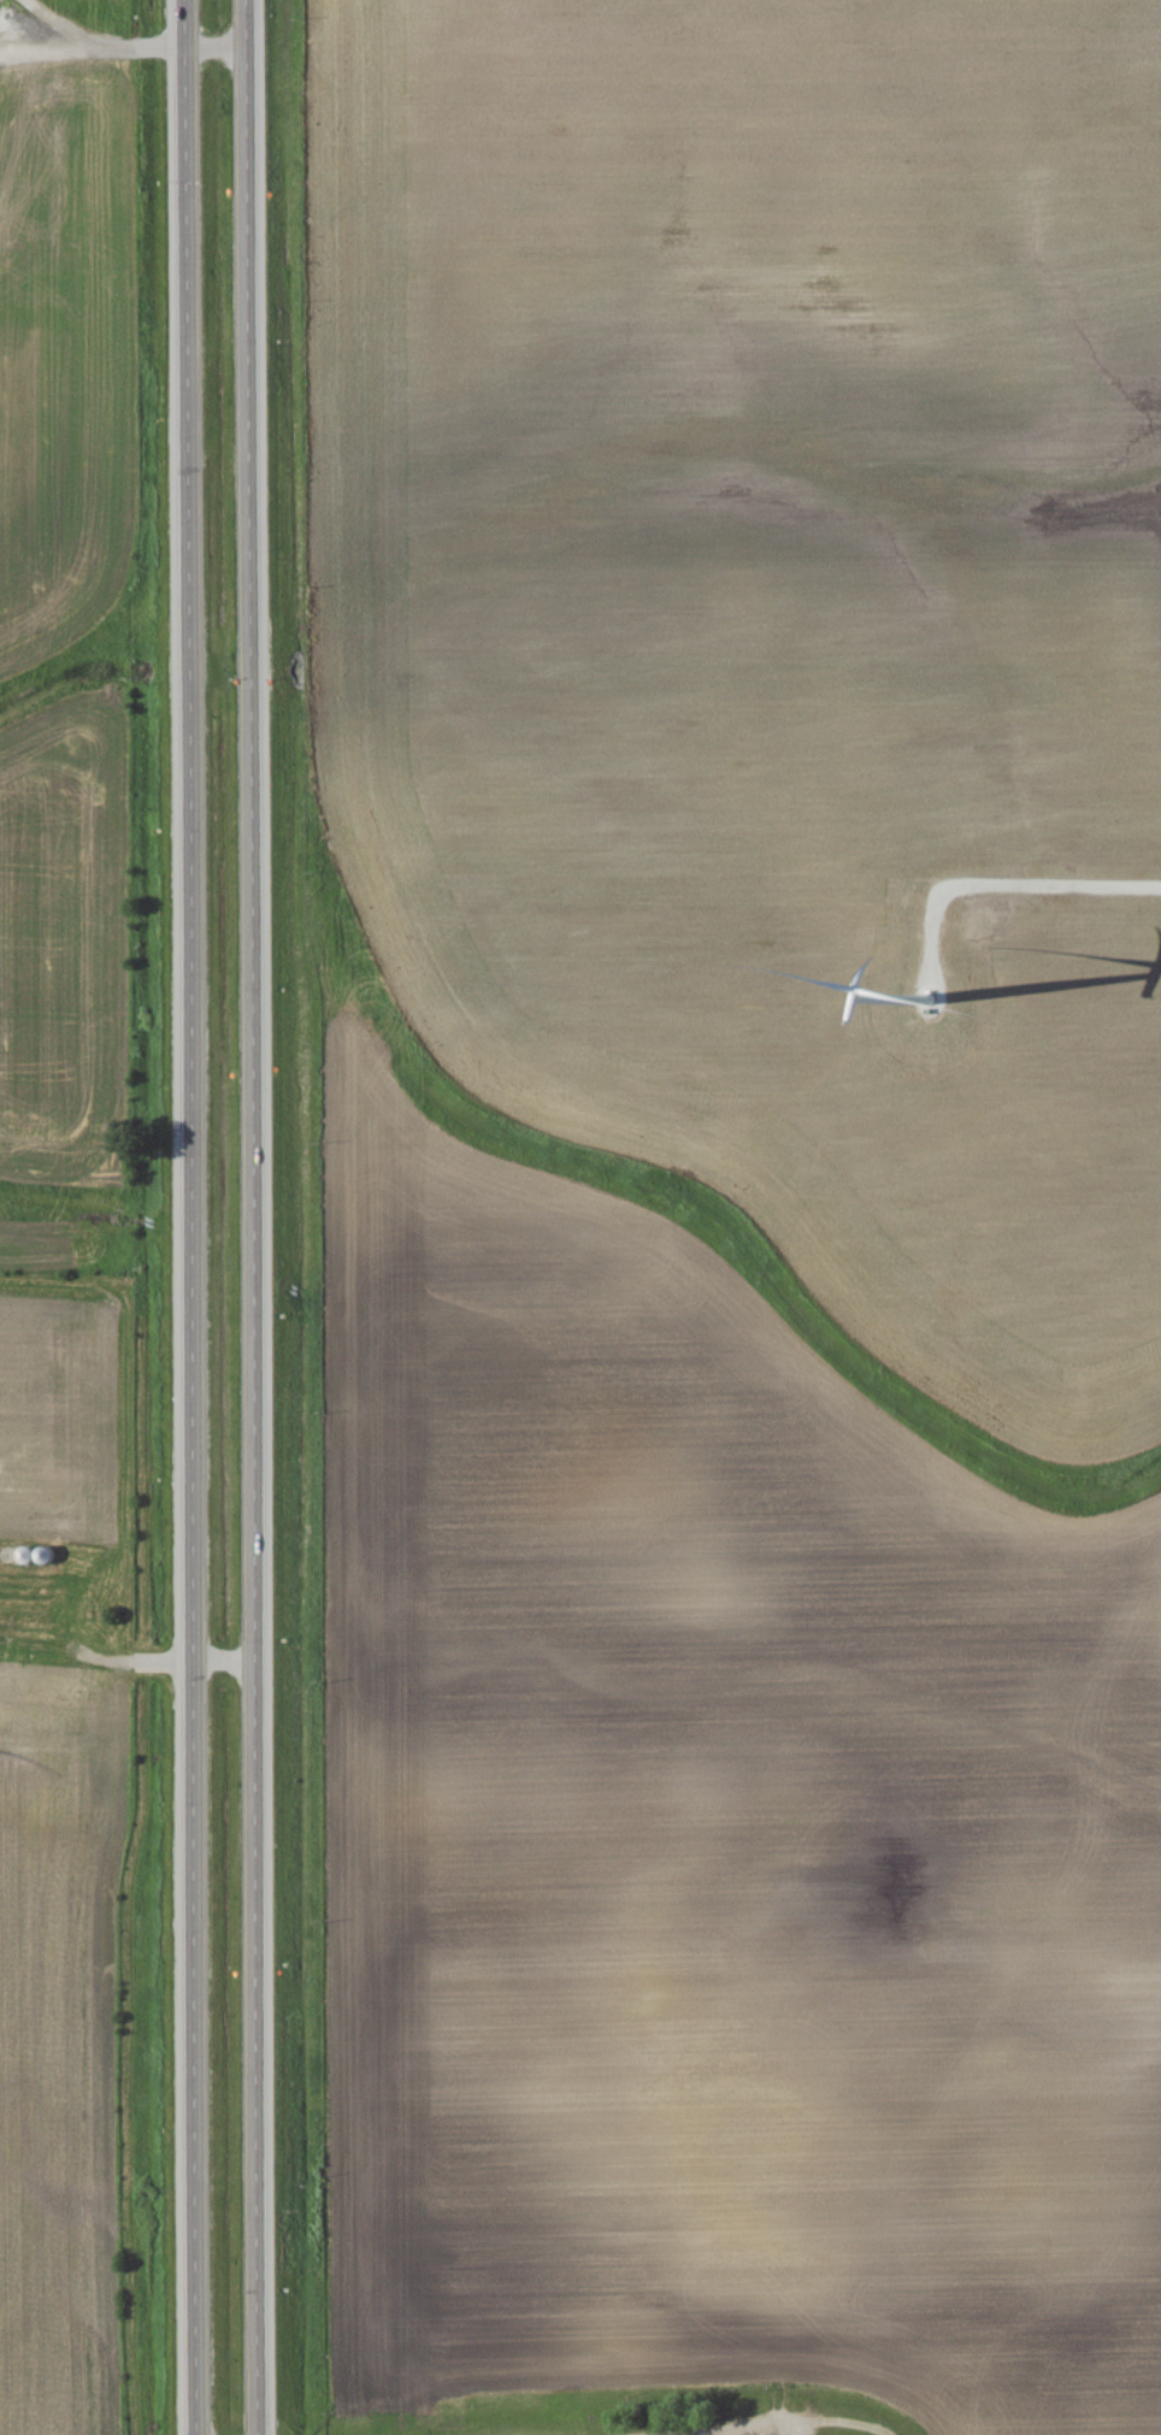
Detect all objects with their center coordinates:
road: (1043, 885)
wind turbine: (915, 990)
road: (194, 1216)
road: (257, 1216)
road: (736, 2429)

